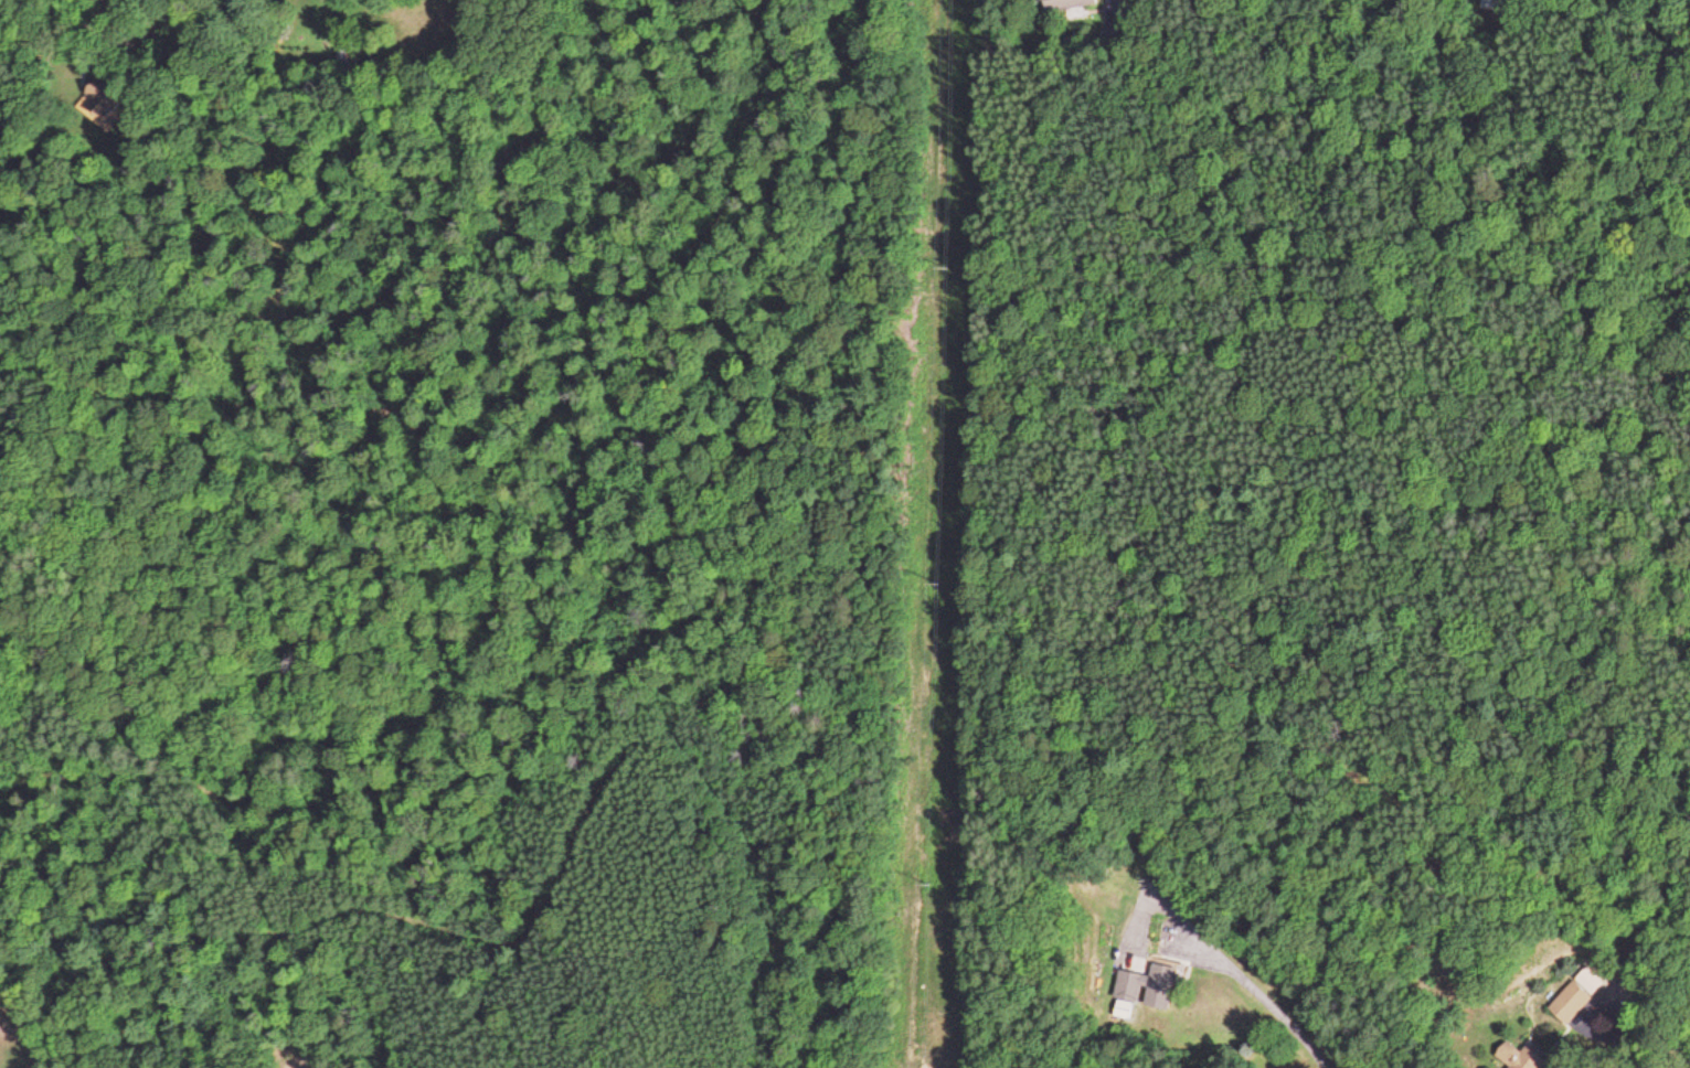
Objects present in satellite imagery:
building: (1061, 4)
building: (1141, 986)
building: (1511, 1057)

